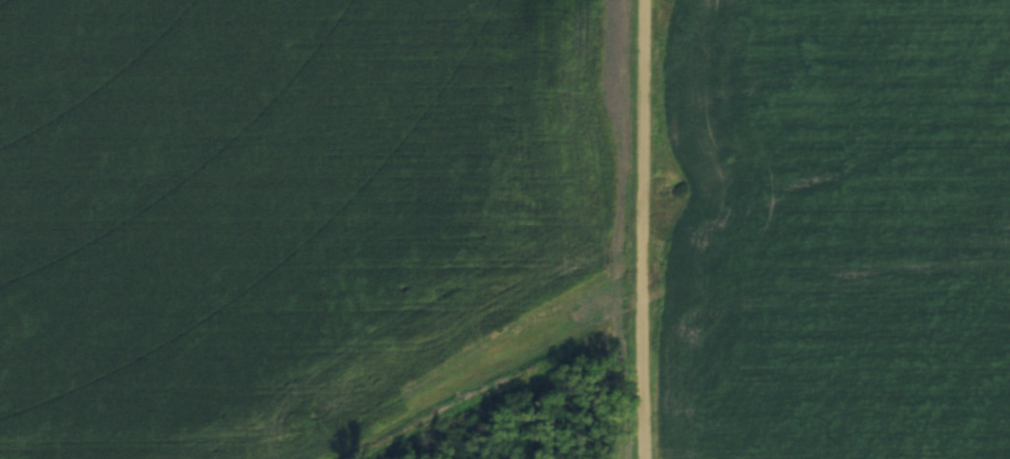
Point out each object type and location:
road: (661, 229)

